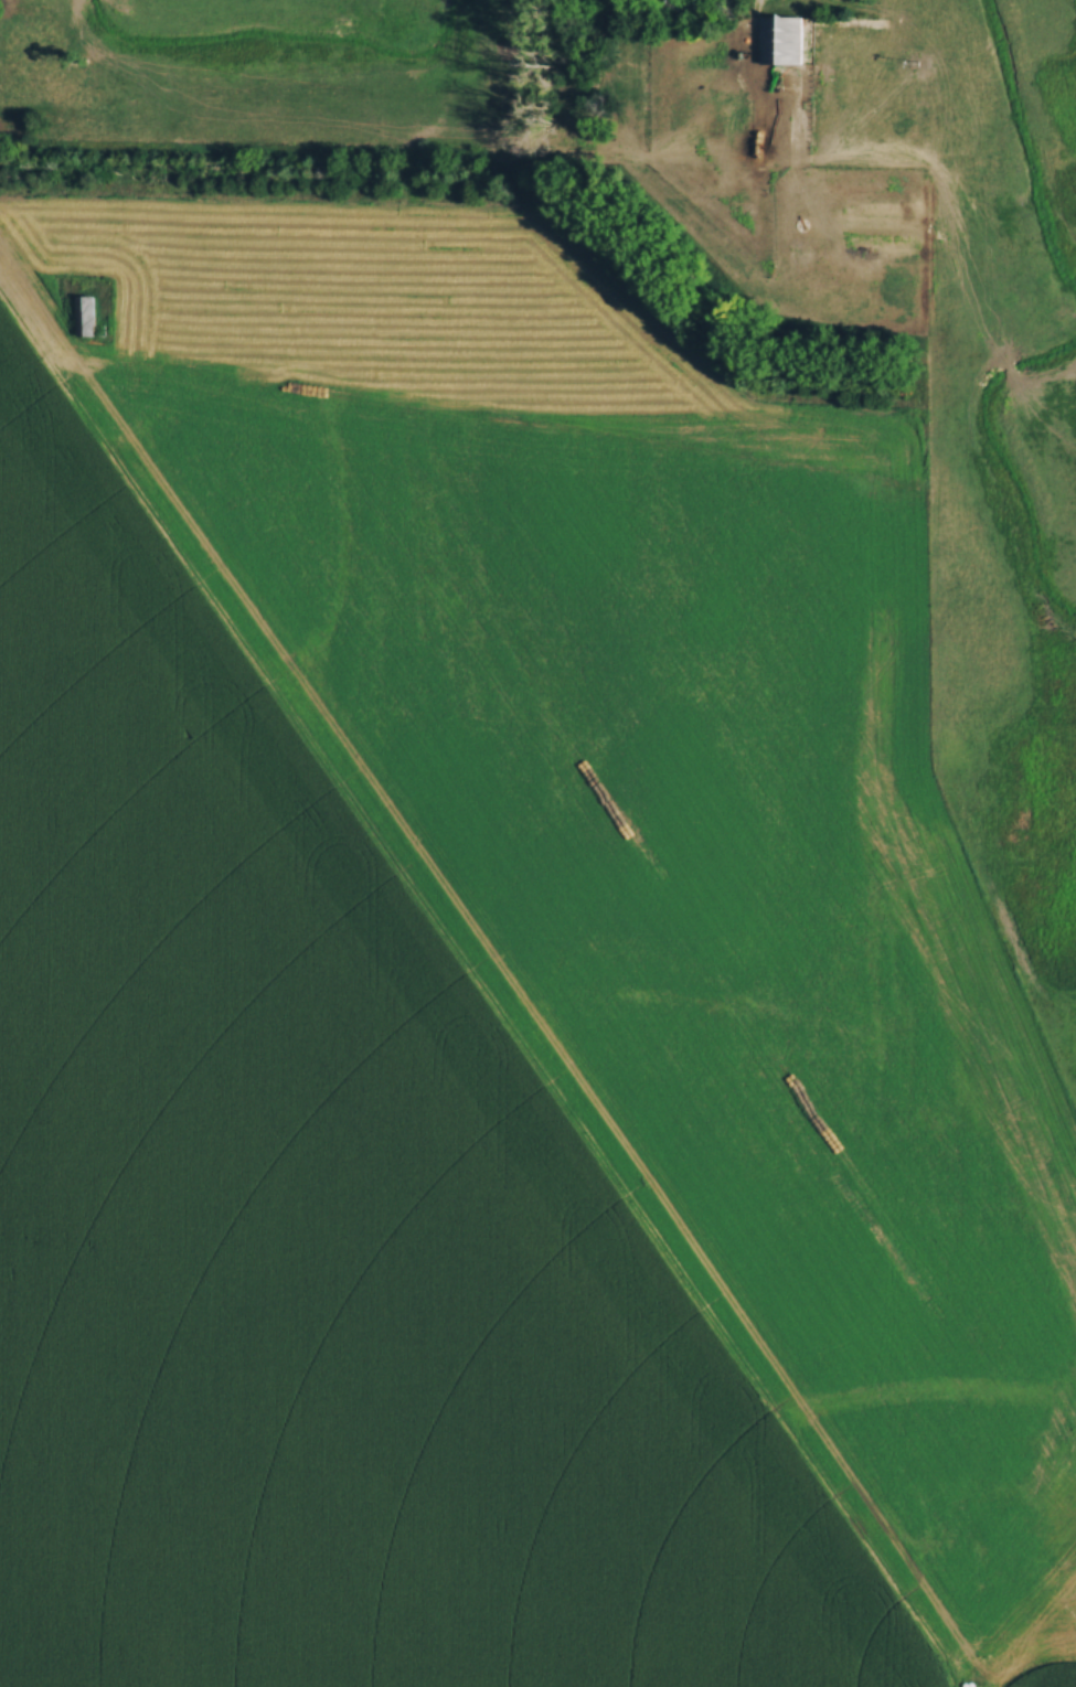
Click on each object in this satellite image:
building: (780, 46)
building: (86, 317)
road: (35, 320)

